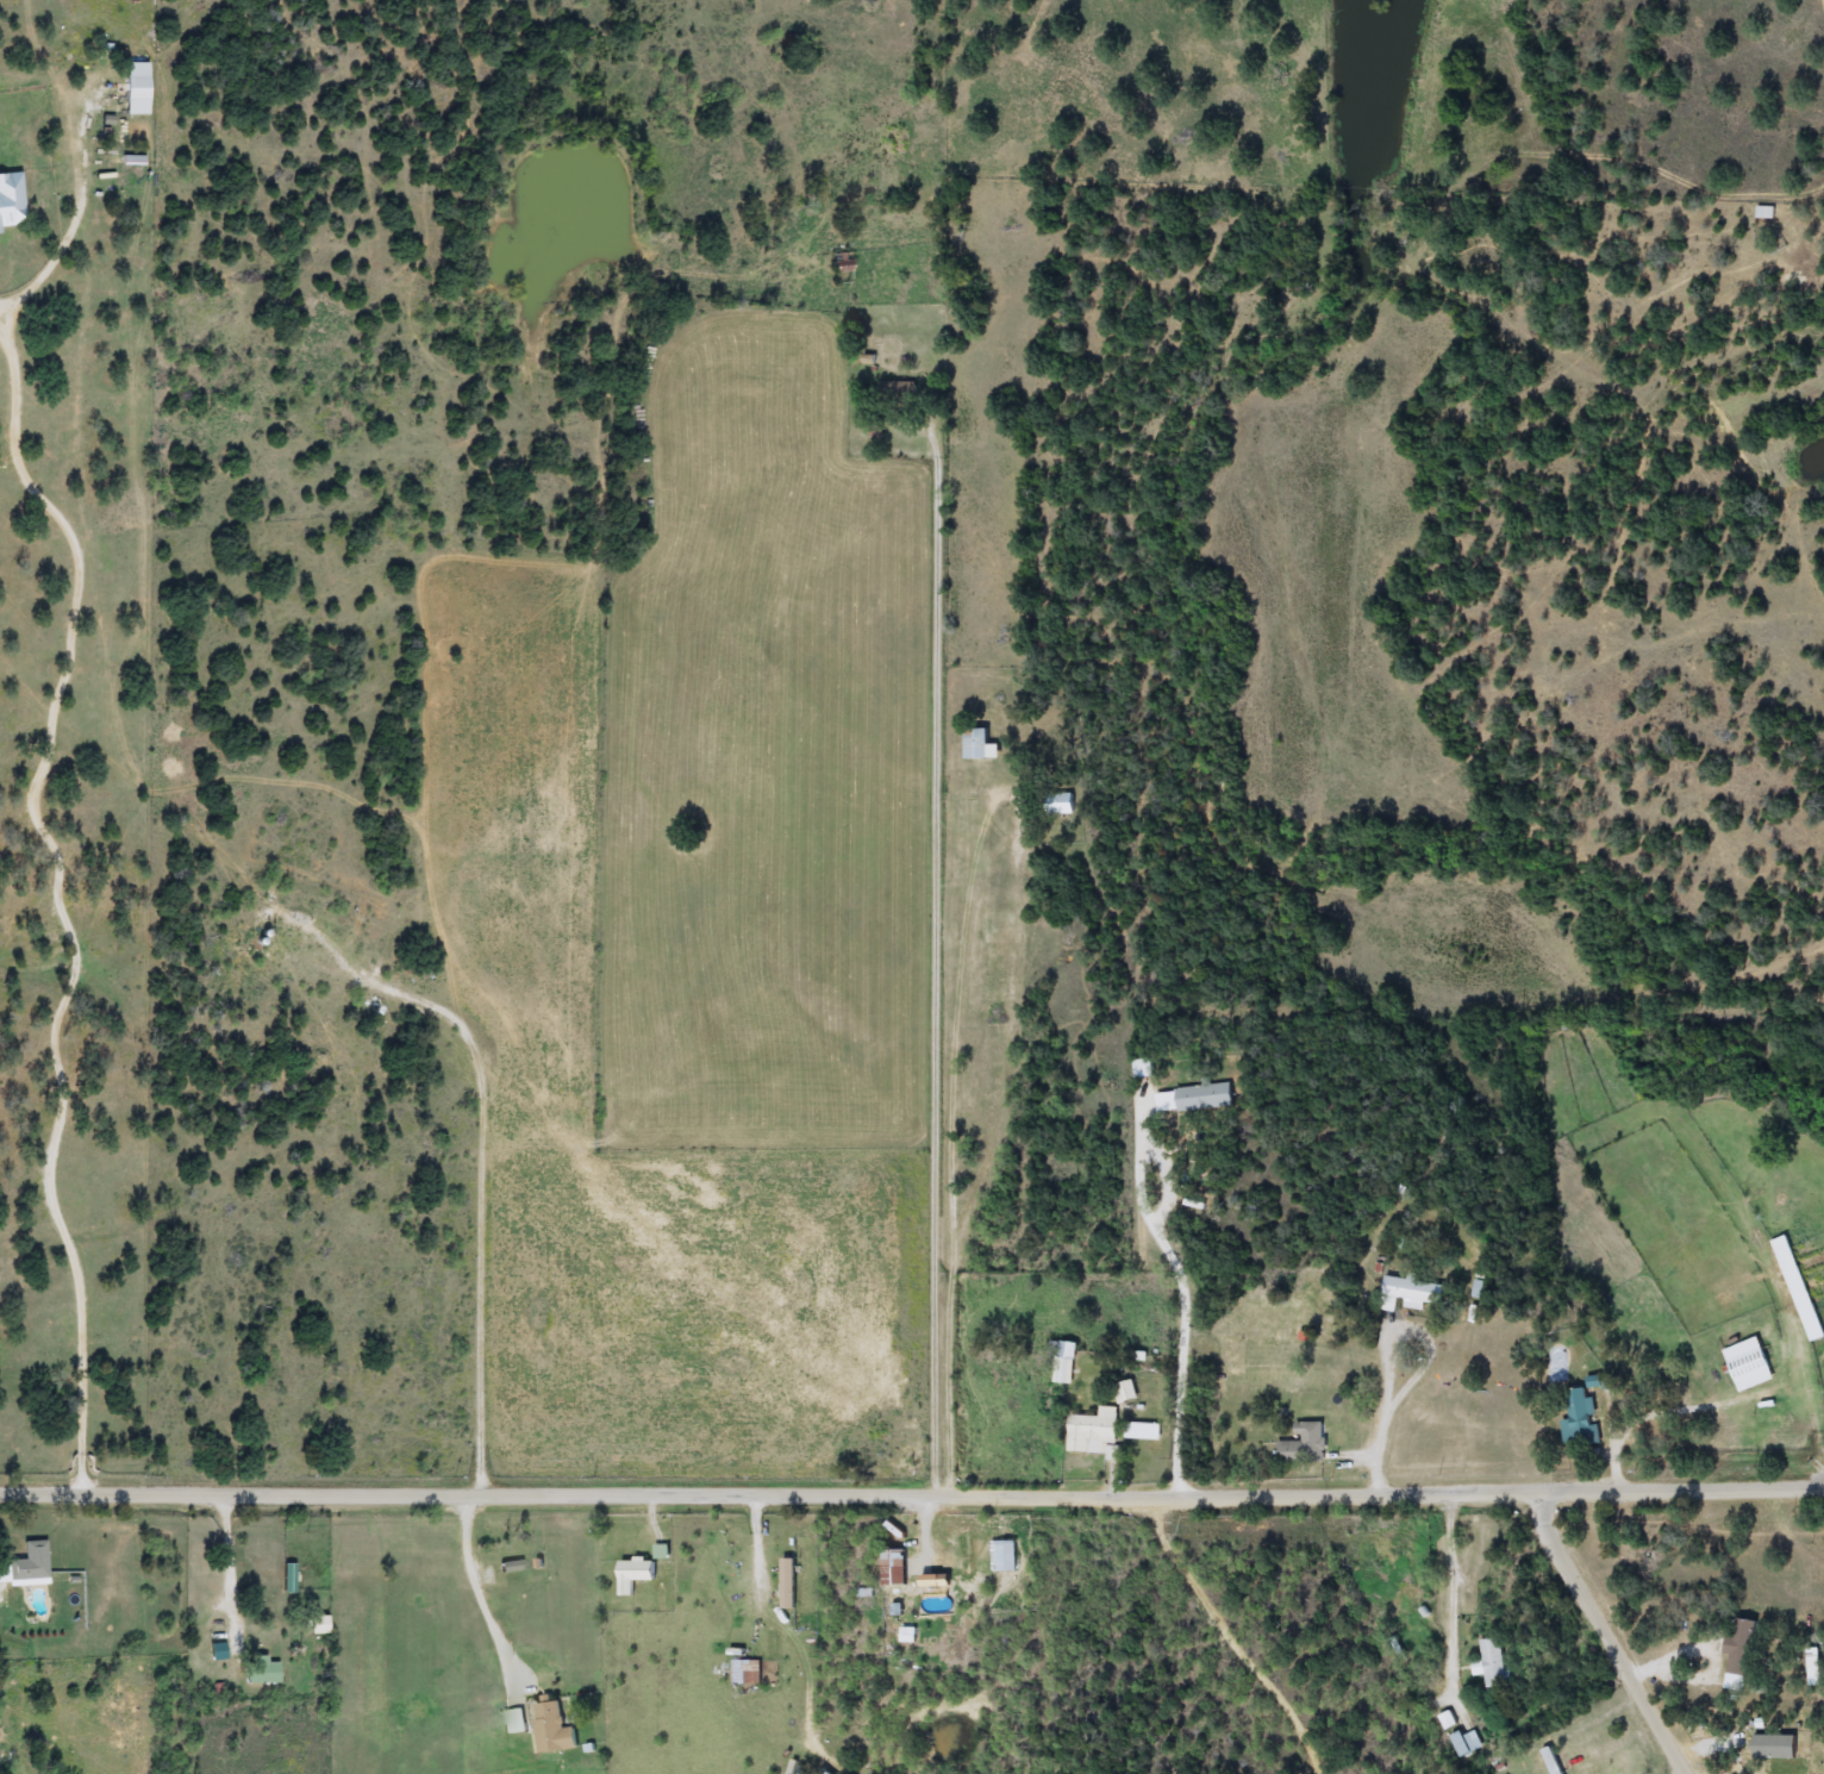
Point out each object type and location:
building: (138, 88)
building: (12, 200)
building: (842, 262)
building: (899, 393)
building: (979, 743)
road: (1002, 824)
road: (61, 899)
road: (941, 956)
building: (1145, 1068)
building: (1194, 1098)
road: (986, 1176)
road: (1004, 1199)
road: (1762, 1250)
road: (486, 1281)
road: (1188, 1286)
building: (1799, 1288)
building: (1413, 1291)
building: (995, 1353)
building: (1067, 1362)
building: (1750, 1364)
road: (1394, 1367)
building: (1126, 1392)
building: (1581, 1419)
building: (1094, 1433)
building: (1305, 1445)
road: (1381, 1447)
road: (911, 1491)
road: (927, 1537)
building: (1005, 1556)
building: (27, 1566)
building: (512, 1567)
road: (226, 1568)
building: (637, 1574)
building: (899, 1575)
building: (791, 1584)
road: (1454, 1594)
building: (319, 1625)
road: (1232, 1635)
road: (1607, 1635)
building: (955, 1645)
building: (217, 1647)
building: (1744, 1647)
building: (1493, 1663)
building: (1814, 1667)
building: (262, 1672)
building: (748, 1672)
building: (517, 1722)
building: (554, 1729)
building: (1468, 1743)
building: (1773, 1745)
building: (1551, 1761)

